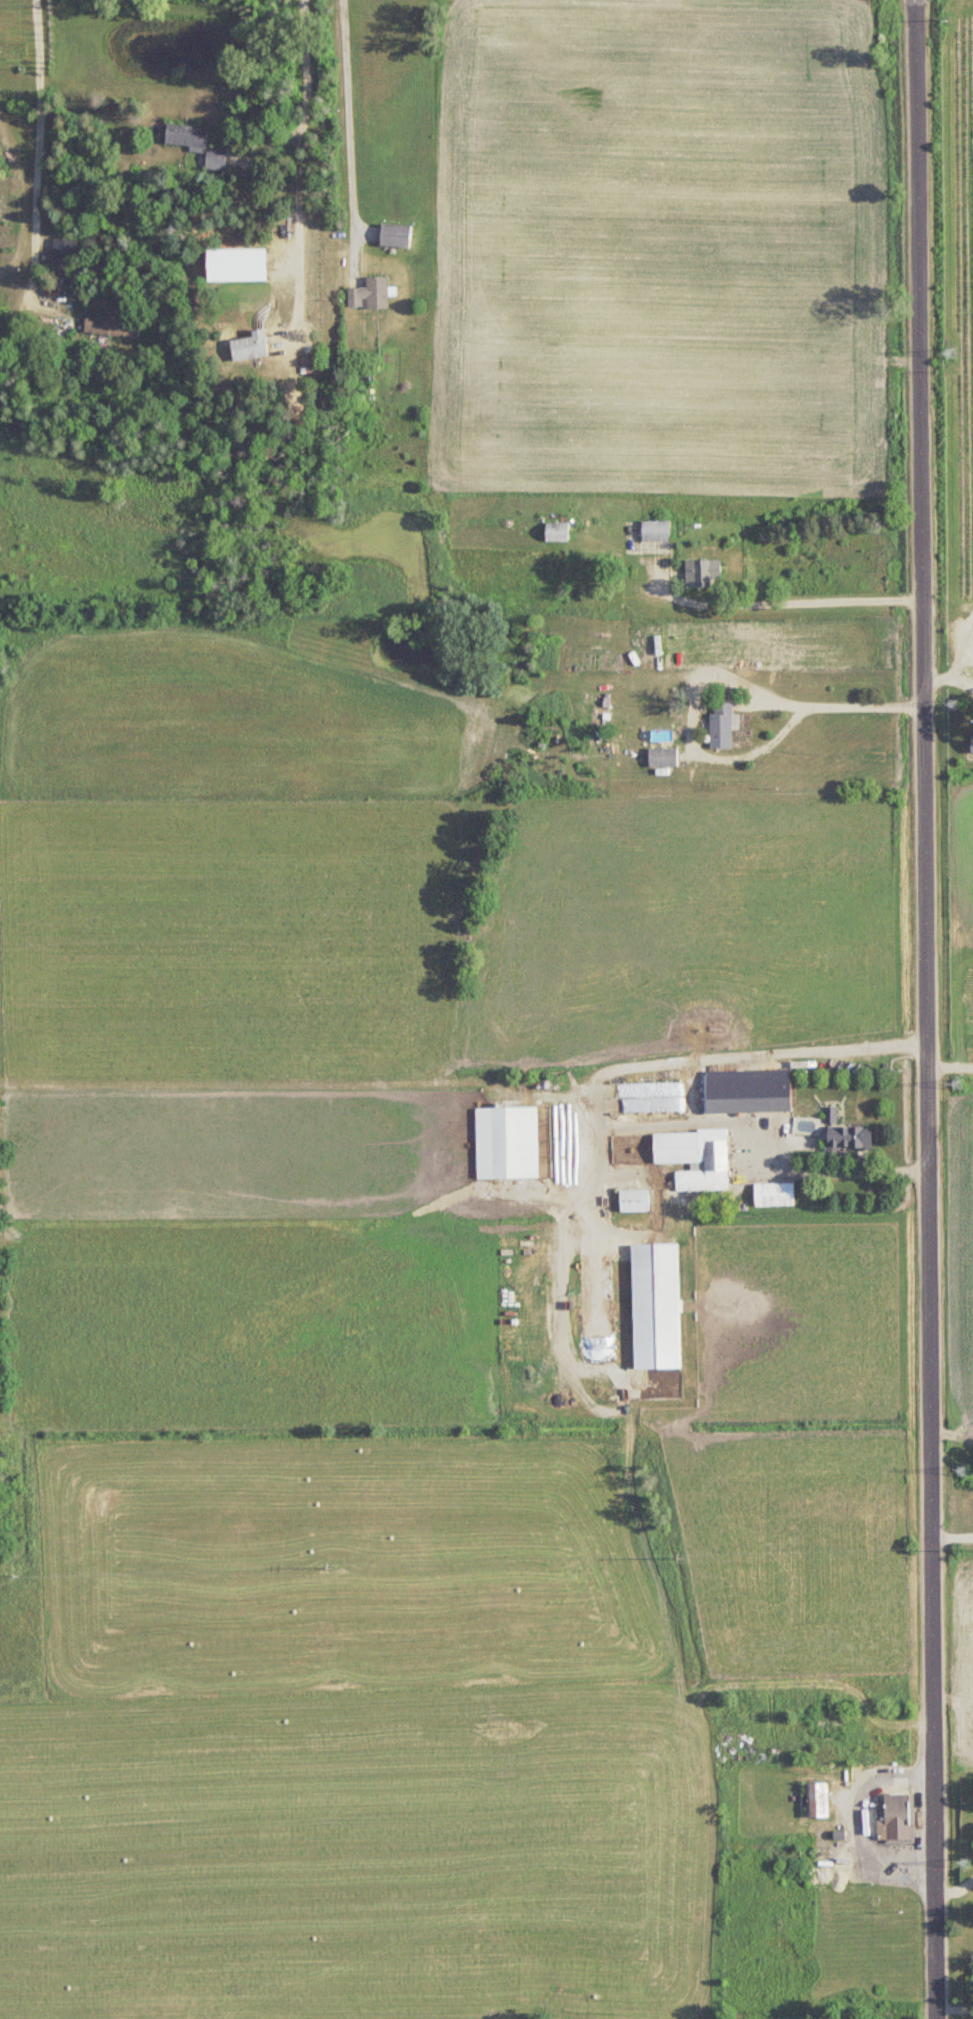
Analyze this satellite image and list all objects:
road: (351, 115)
building: (187, 137)
road: (39, 150)
building: (216, 160)
road: (299, 164)
road: (26, 199)
building: (395, 235)
building: (64, 256)
building: (370, 294)
building: (112, 326)
building: (250, 350)
power tower: (949, 354)
building: (656, 531)
building: (557, 534)
building: (704, 574)
road: (790, 601)
road: (834, 703)
power tower: (955, 704)
building: (722, 726)
building: (972, 741)
building: (663, 758)
road: (923, 1009)
road: (772, 1053)
power tower: (958, 1084)
building: (748, 1092)
building: (855, 1138)
building: (507, 1144)
building: (695, 1159)
road: (840, 1171)
building: (572, 1185)
building: (774, 1196)
building: (634, 1201)
building: (656, 1307)
power tower: (966, 1471)
building: (832, 1725)
building: (818, 1799)
road: (858, 1815)
building: (896, 1816)
power tower: (966, 1862)
road: (955, 1886)
road: (954, 2007)

